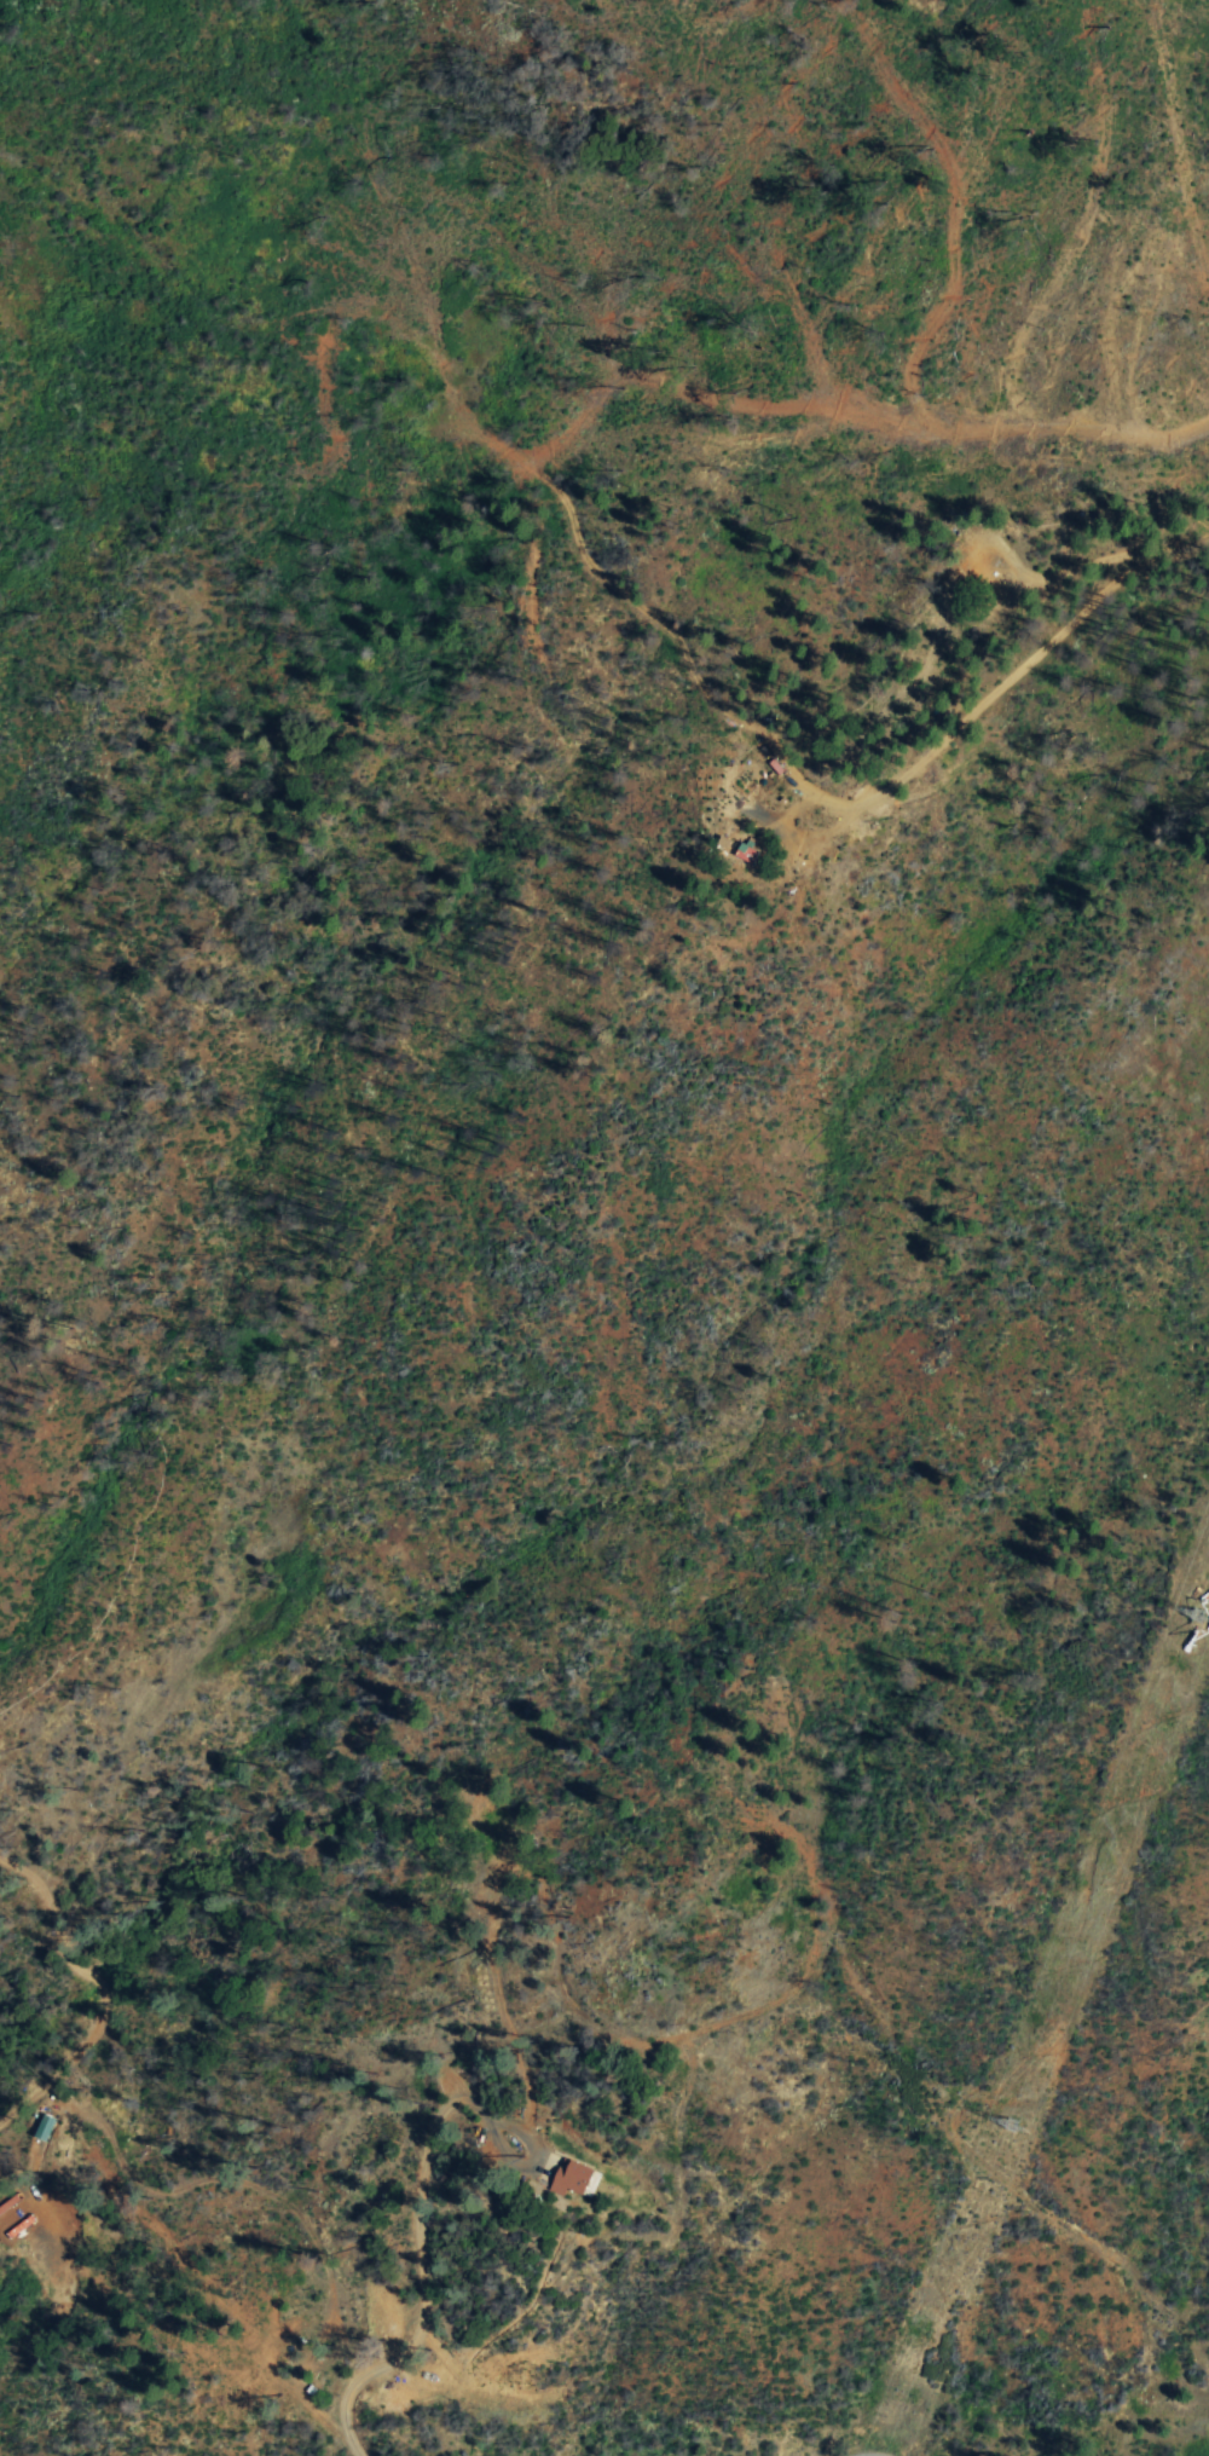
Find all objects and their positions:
building: (744, 854)
power tower: (1190, 1612)
power tower: (999, 2128)
building: (569, 2184)

